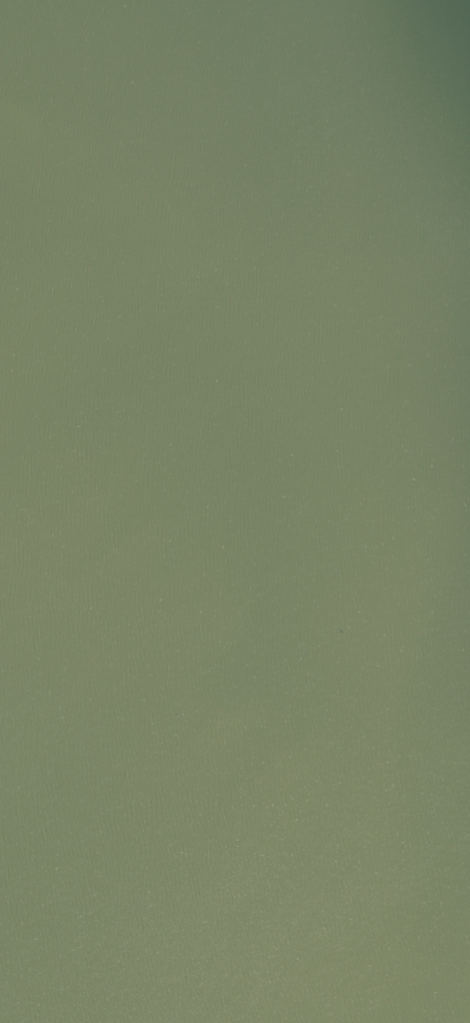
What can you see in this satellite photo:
river: (237, 773)

